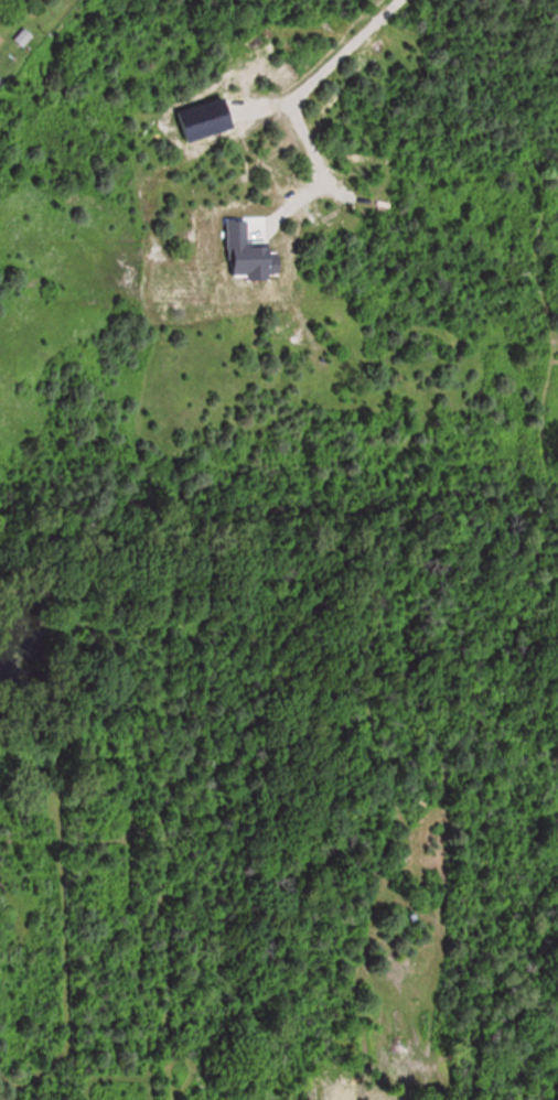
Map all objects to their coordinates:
road: (288, 107)

